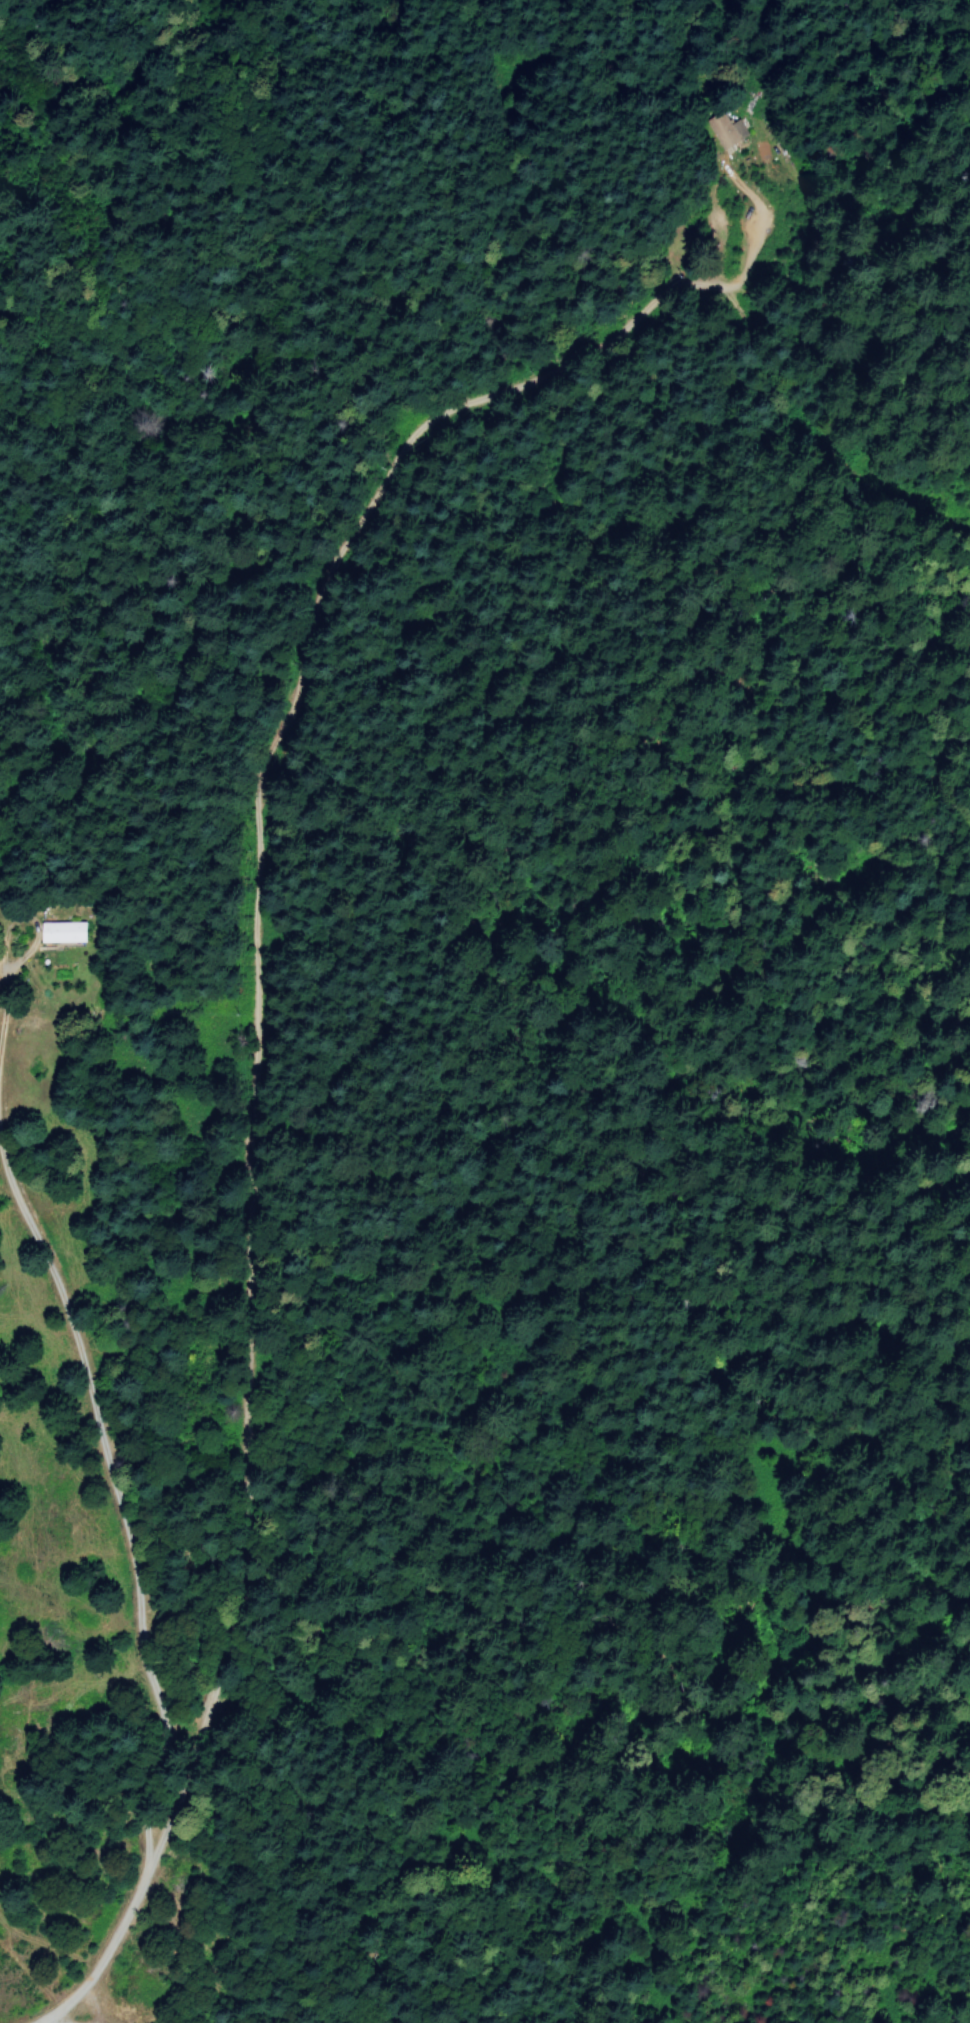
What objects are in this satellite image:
road: (22, 921)
road: (5, 1013)
road: (139, 1592)

